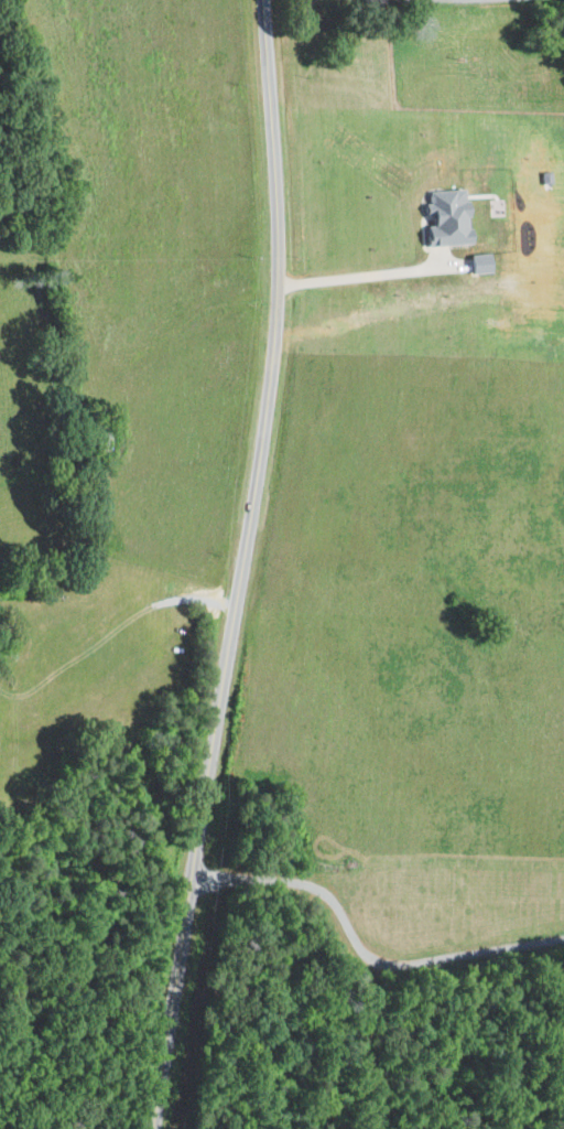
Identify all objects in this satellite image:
building: (542, 174)
building: (446, 213)
building: (478, 260)
road: (357, 278)
road: (241, 566)
road: (358, 949)

